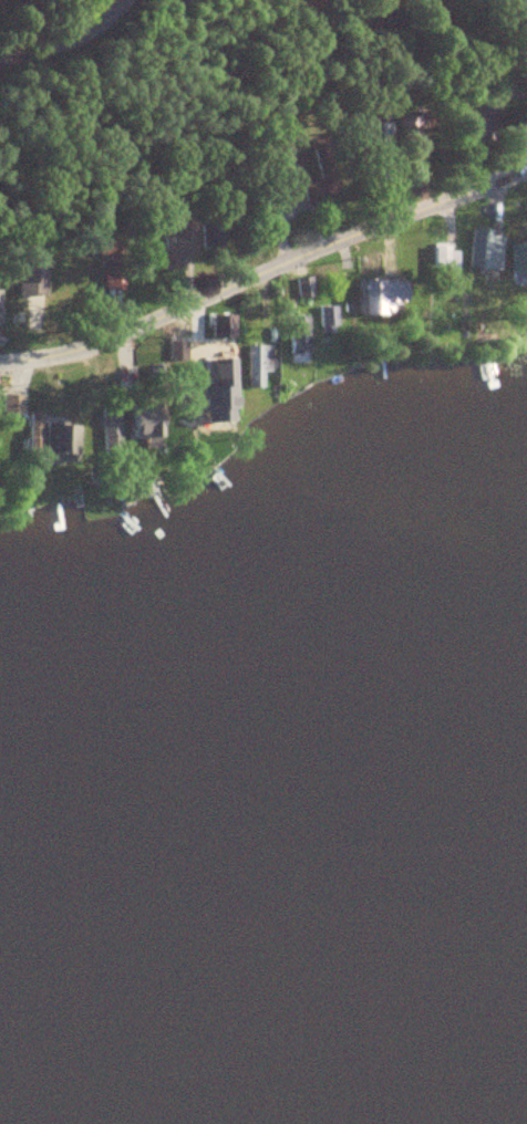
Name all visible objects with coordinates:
road: (12, 2)
building: (321, 183)
building: (180, 236)
building: (108, 248)
building: (485, 248)
building: (518, 256)
building: (445, 258)
road: (268, 277)
building: (304, 288)
building: (396, 291)
building: (328, 319)
building: (226, 325)
building: (299, 335)
building: (256, 364)
building: (216, 399)
building: (12, 412)
building: (146, 412)
building: (35, 433)
building: (112, 435)
building: (62, 440)
river: (15, 1102)

